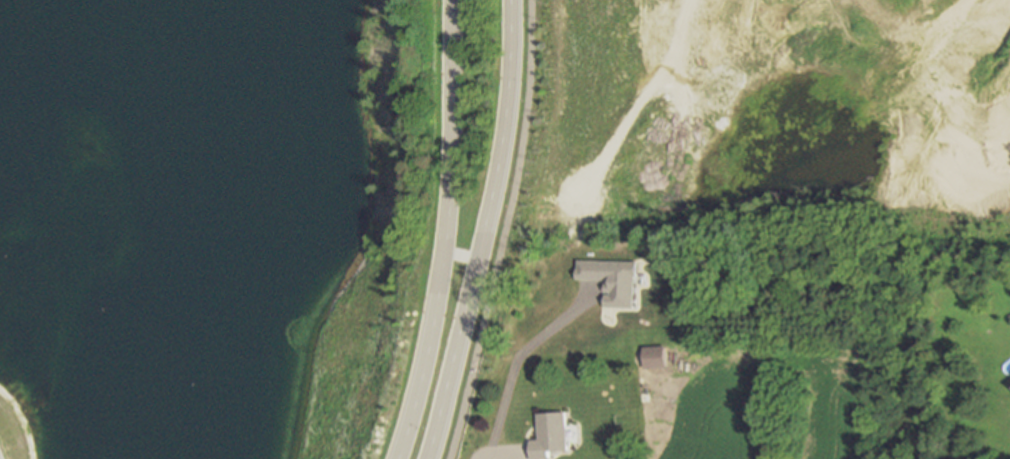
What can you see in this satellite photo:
quarry: (505, 133)
road: (445, 231)
road: (482, 231)
road: (504, 231)
building: (543, 309)
building: (578, 331)
building: (550, 435)

